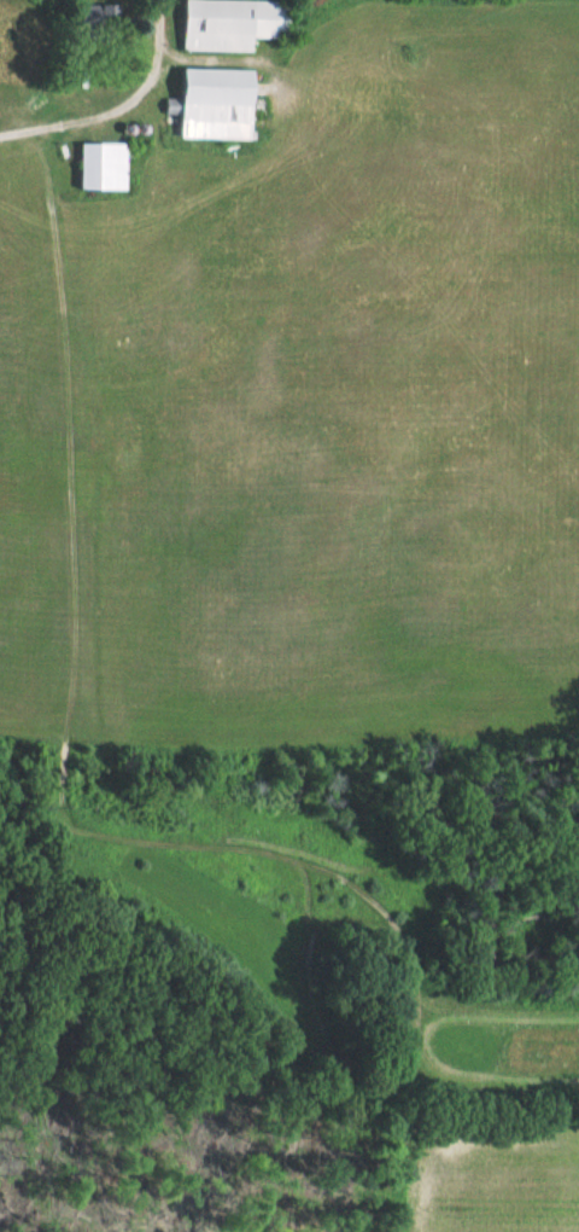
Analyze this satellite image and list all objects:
building: (106, 13)
building: (240, 24)
building: (220, 104)
building: (107, 167)

